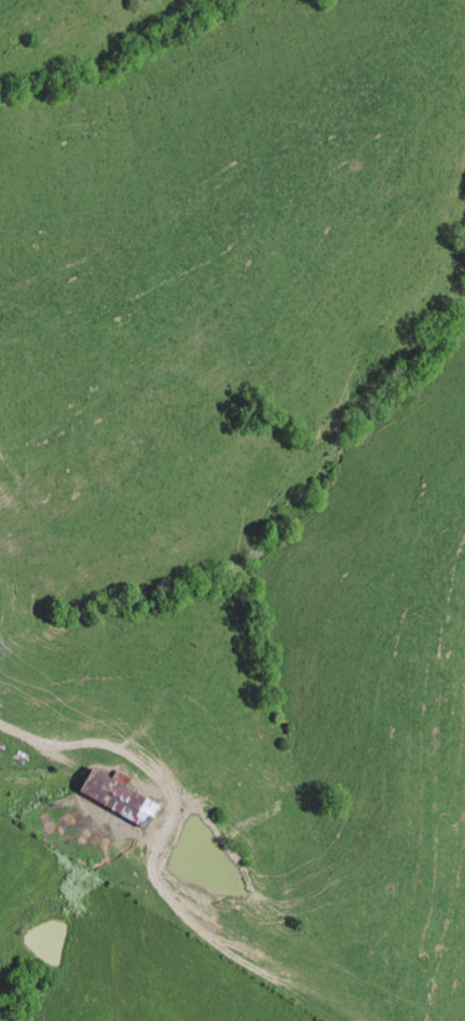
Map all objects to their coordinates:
road: (90, 742)
building: (129, 799)

